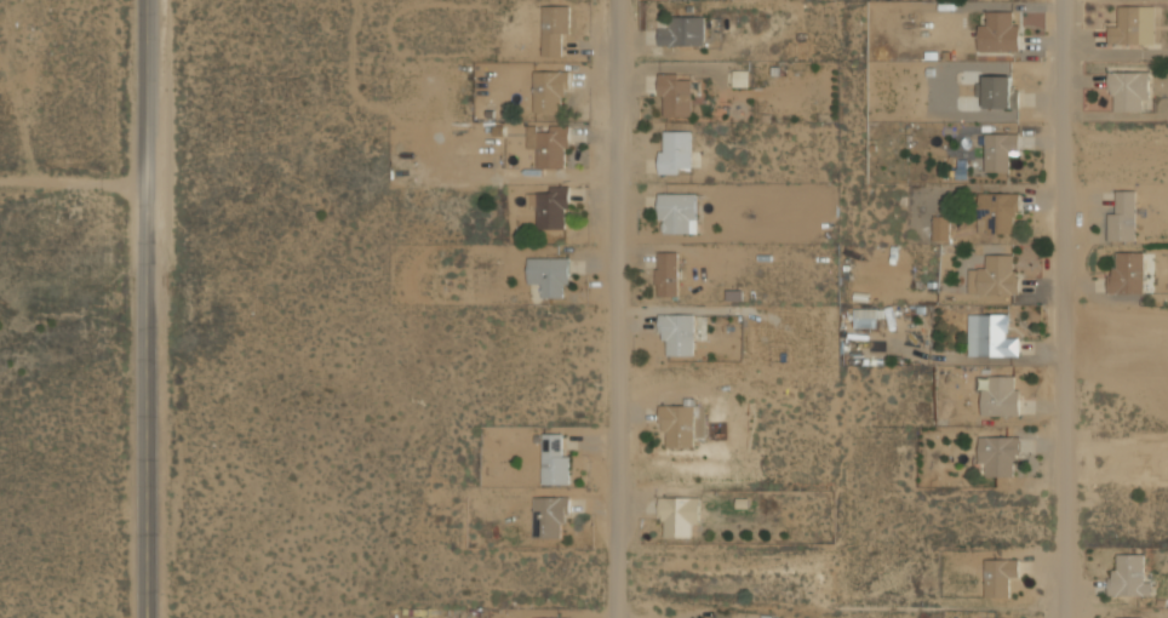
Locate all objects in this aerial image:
building: (1127, 25)
building: (555, 28)
building: (683, 32)
building: (1000, 32)
building: (742, 78)
building: (1128, 90)
building: (549, 91)
building: (1000, 91)
building: (675, 96)
building: (554, 147)
building: (1000, 149)
building: (675, 151)
road: (73, 182)
building: (552, 207)
building: (998, 212)
building: (679, 213)
building: (1122, 214)
building: (941, 228)
building: (1127, 273)
building: (668, 274)
building: (550, 275)
building: (995, 275)
road: (145, 309)
road: (618, 309)
road: (1066, 309)
building: (865, 317)
building: (679, 332)
building: (990, 334)
building: (1000, 394)
building: (677, 425)
building: (1000, 454)
building: (555, 458)
building: (549, 515)
building: (679, 515)
building: (1128, 576)
building: (998, 577)
building: (550, 617)
building: (1130, 617)

